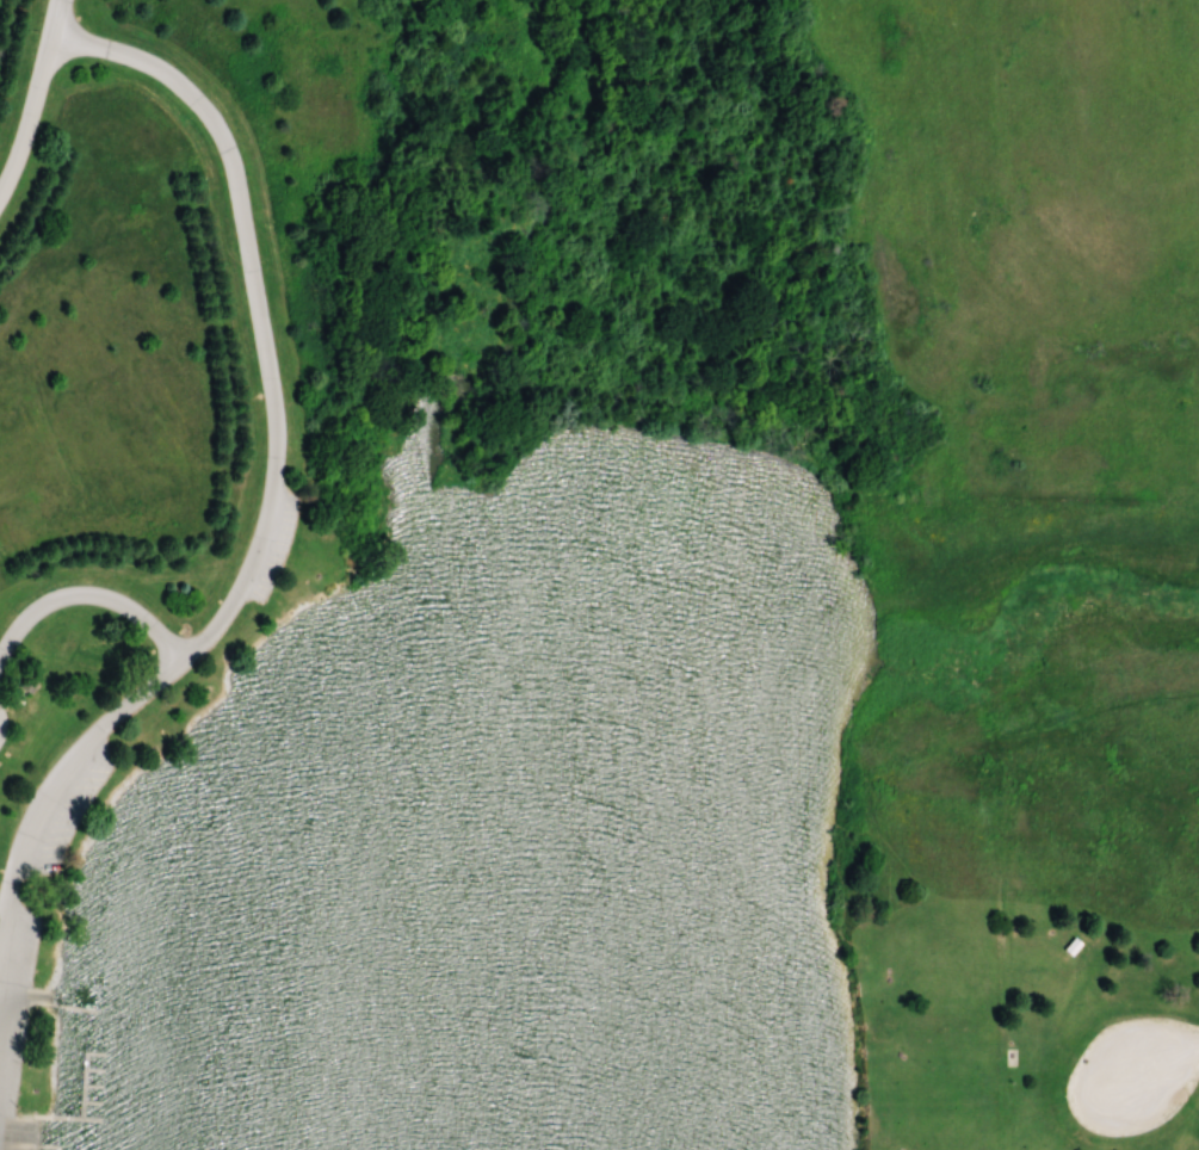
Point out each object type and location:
road: (35, 97)
road: (272, 422)
park: (505, 684)
parking lot: (1, 730)
road: (58, 789)
road: (24, 993)
parking lot: (12, 1033)
road: (1161, 1062)

